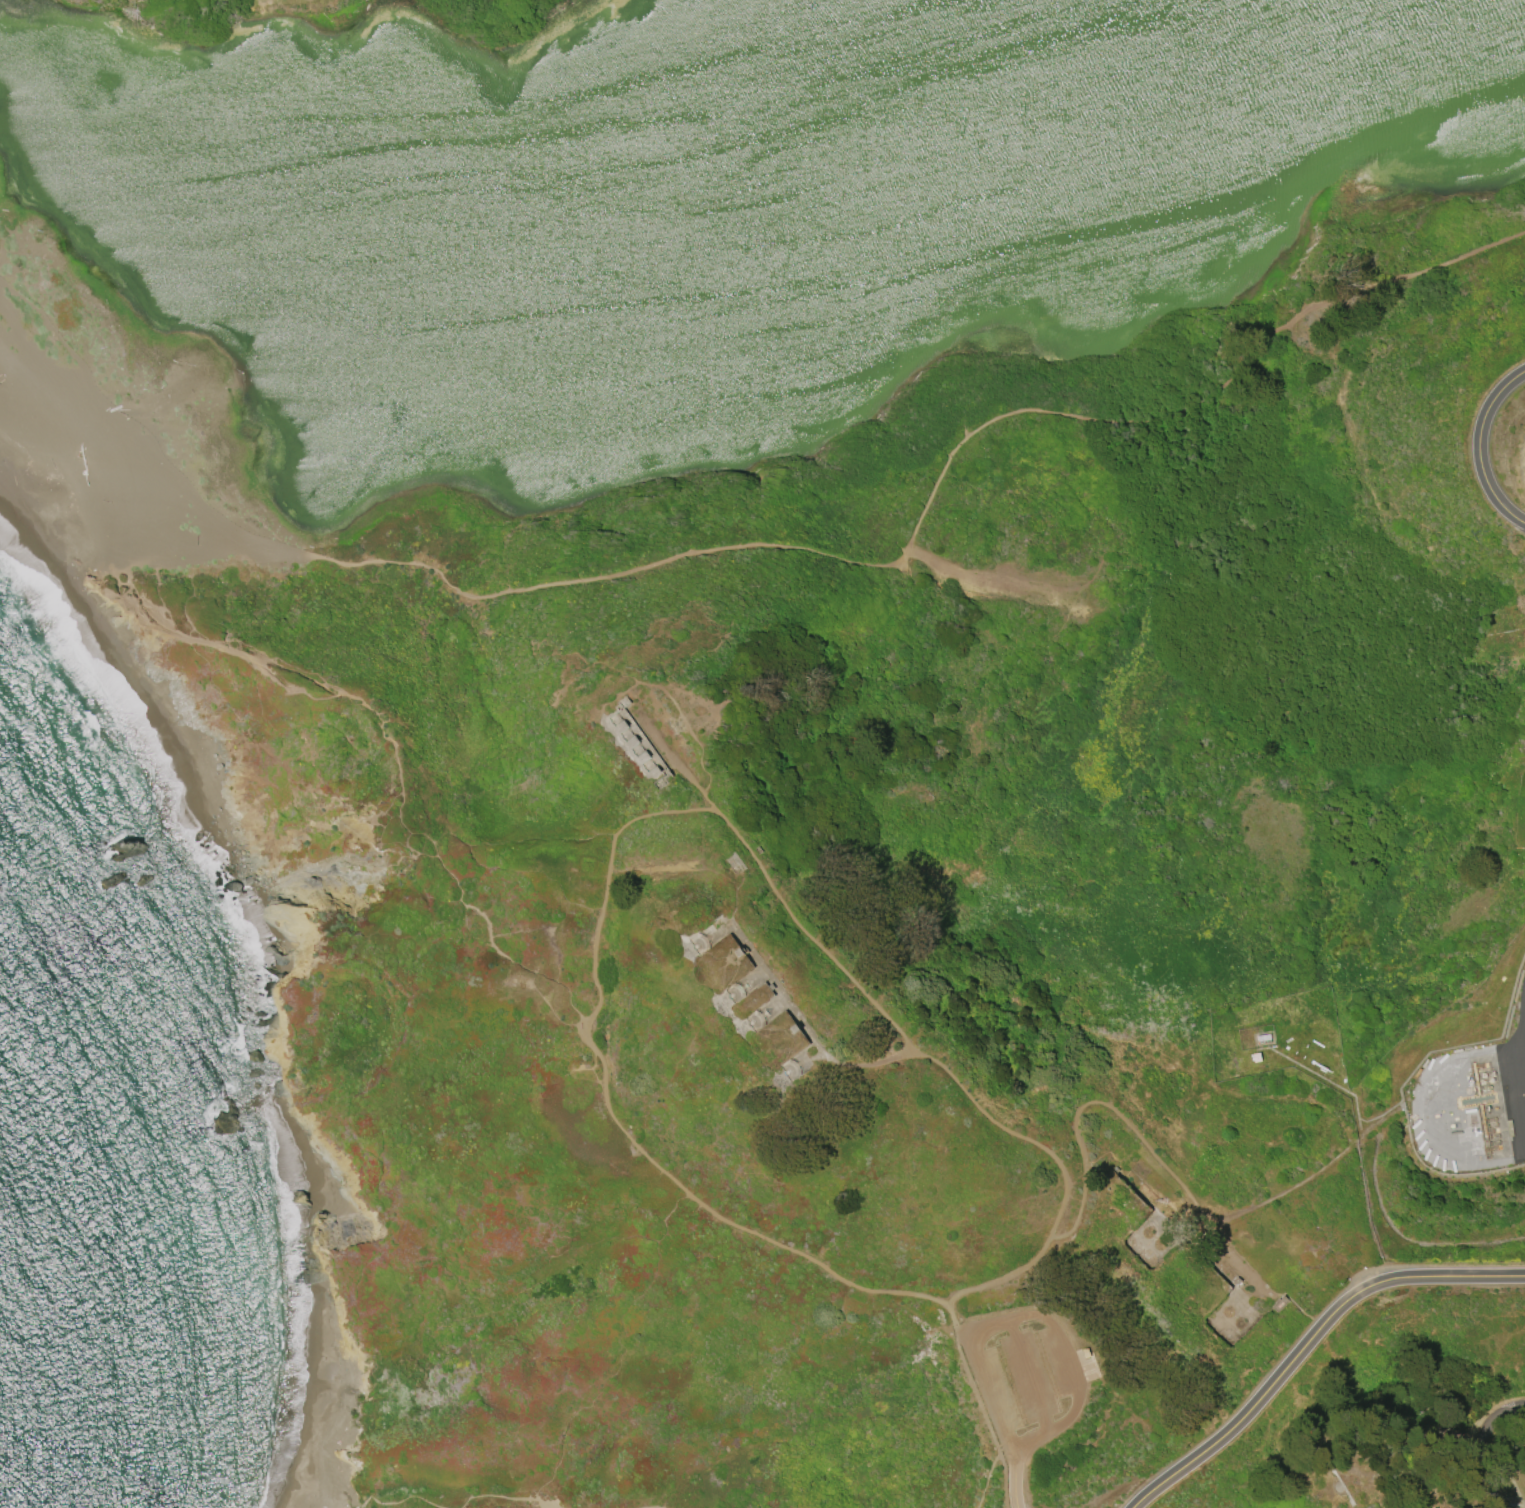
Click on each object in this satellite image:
road: (1488, 448)
road: (767, 546)
road: (585, 664)
road: (675, 708)
road: (384, 718)
building: (636, 745)
road: (674, 760)
building: (751, 1000)
road: (1416, 1087)
road: (1382, 1134)
road: (1150, 1144)
building: (1197, 1252)
road: (916, 1298)
road: (958, 1323)
road: (1309, 1344)
building: (1086, 1353)
road: (1070, 1357)
parking lot: (1028, 1371)
road: (1030, 1377)
road: (988, 1395)
road: (1479, 1446)
road: (989, 1473)
road: (1015, 1481)
road: (1126, 1489)
road: (505, 1497)
road: (395, 1502)
road: (652, 1507)

